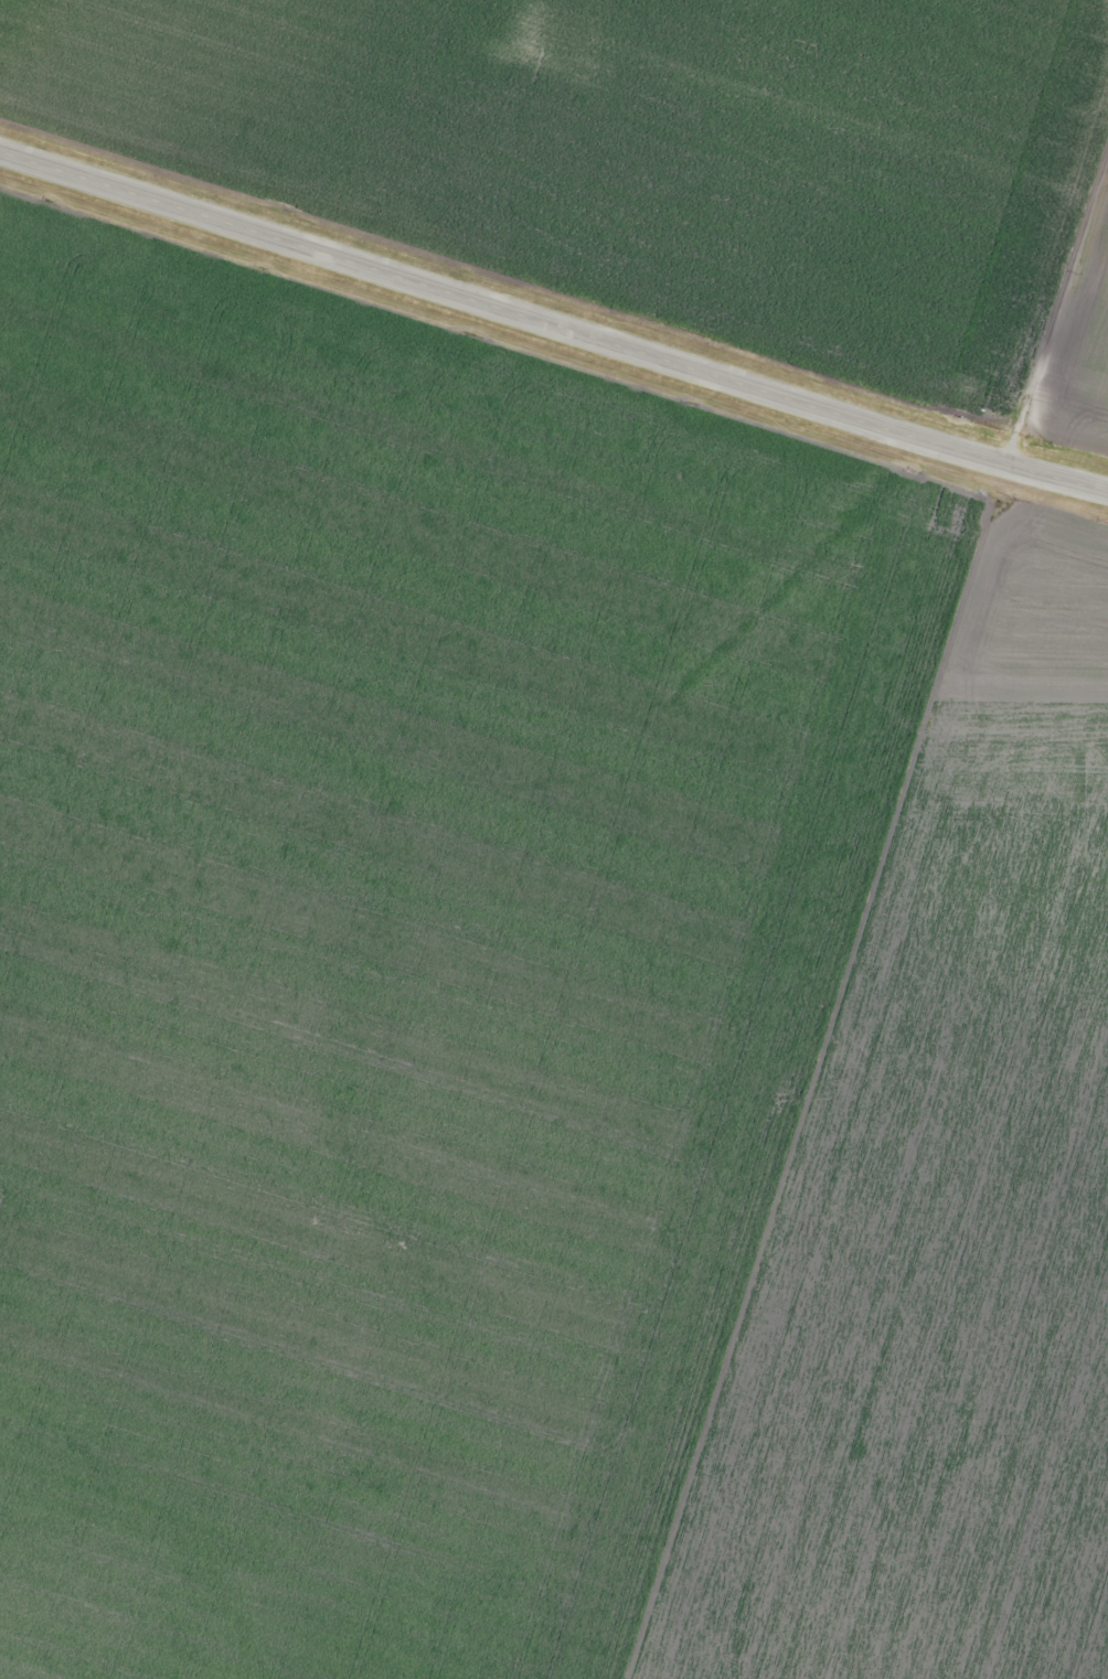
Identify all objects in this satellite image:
road: (554, 319)
road: (869, 927)

